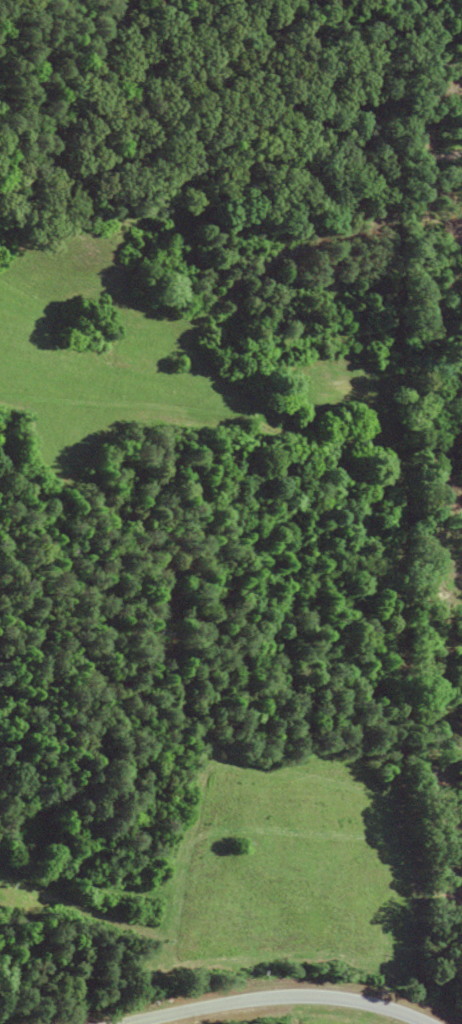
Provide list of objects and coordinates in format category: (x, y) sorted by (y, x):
road: (271, 998)

